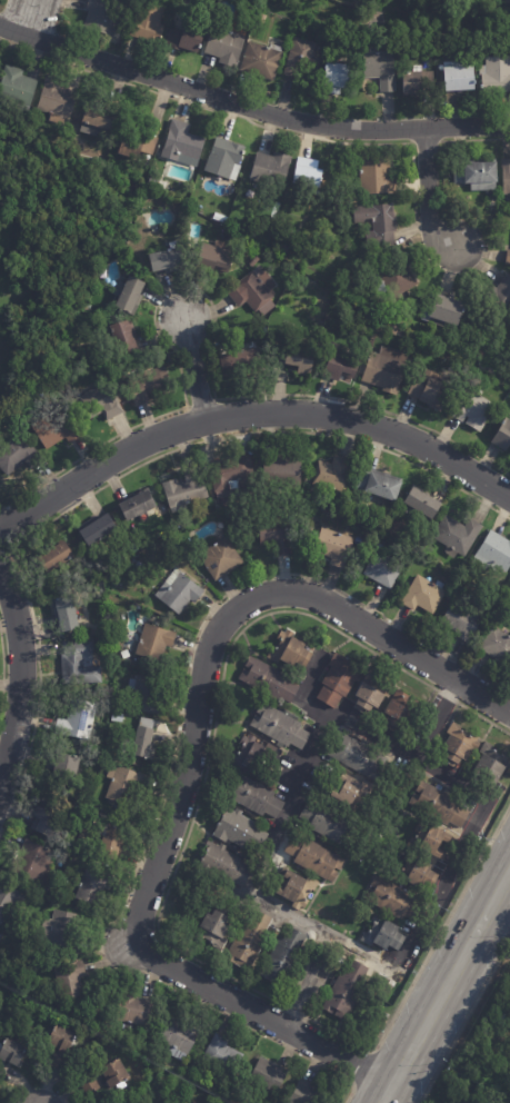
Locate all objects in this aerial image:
building: (103, 17)
road: (27, 18)
building: (261, 19)
building: (148, 22)
building: (186, 38)
building: (224, 46)
building: (301, 58)
building: (261, 60)
building: (380, 69)
building: (496, 74)
building: (460, 76)
building: (336, 77)
building: (418, 81)
building: (17, 86)
building: (56, 99)
road: (250, 107)
building: (99, 118)
road: (246, 118)
road: (473, 139)
road: (424, 143)
building: (138, 145)
building: (182, 145)
building: (224, 159)
building: (270, 169)
building: (308, 172)
building: (477, 173)
building: (506, 176)
building: (376, 177)
road: (427, 189)
building: (213, 217)
building: (377, 226)
building: (286, 245)
building: (217, 257)
building: (508, 258)
building: (167, 260)
building: (392, 278)
building: (254, 289)
building: (130, 294)
building: (498, 302)
road: (213, 310)
building: (444, 314)
building: (391, 329)
building: (124, 337)
building: (349, 339)
building: (298, 356)
building: (243, 364)
building: (341, 366)
road: (193, 368)
building: (386, 370)
building: (462, 371)
building: (149, 385)
building: (430, 390)
building: (101, 403)
road: (200, 403)
building: (473, 408)
road: (249, 413)
building: (56, 428)
building: (502, 436)
building: (17, 455)
building: (277, 473)
building: (332, 475)
building: (233, 477)
road: (116, 478)
building: (379, 485)
building: (184, 493)
building: (422, 505)
building: (137, 507)
road: (7, 531)
building: (97, 531)
building: (458, 535)
building: (277, 536)
building: (419, 541)
building: (334, 547)
building: (412, 553)
building: (494, 555)
building: (54, 559)
building: (220, 559)
building: (136, 568)
building: (383, 568)
building: (178, 593)
building: (422, 596)
building: (64, 612)
building: (462, 620)
building: (154, 642)
building: (498, 647)
building: (291, 654)
building: (80, 663)
road: (1, 674)
road: (20, 674)
building: (339, 678)
building: (267, 679)
road: (304, 687)
building: (372, 693)
building: (147, 695)
road: (446, 696)
building: (400, 711)
road: (483, 717)
road: (436, 718)
building: (77, 719)
building: (279, 726)
building: (143, 742)
building: (458, 746)
road: (209, 747)
building: (252, 754)
building: (358, 756)
building: (63, 764)
building: (490, 764)
road: (186, 768)
road: (169, 769)
building: (121, 784)
building: (352, 792)
building: (256, 797)
building: (439, 805)
building: (47, 819)
building: (329, 823)
building: (237, 829)
building: (430, 839)
building: (108, 844)
building: (314, 857)
building: (34, 862)
building: (224, 864)
building: (416, 872)
building: (90, 885)
building: (296, 888)
building: (393, 900)
building: (7, 902)
building: (214, 927)
building: (61, 930)
building: (382, 934)
road: (493, 934)
building: (0, 936)
building: (250, 942)
building: (283, 957)
road: (423, 961)
road: (397, 967)
building: (70, 978)
road: (443, 982)
road: (309, 983)
building: (346, 991)
building: (134, 1010)
road: (297, 1012)
building: (178, 1039)
building: (60, 1045)
building: (11, 1053)
building: (222, 1054)
road: (360, 1067)
building: (114, 1073)
building: (269, 1077)
building: (89, 1083)
building: (306, 1094)

